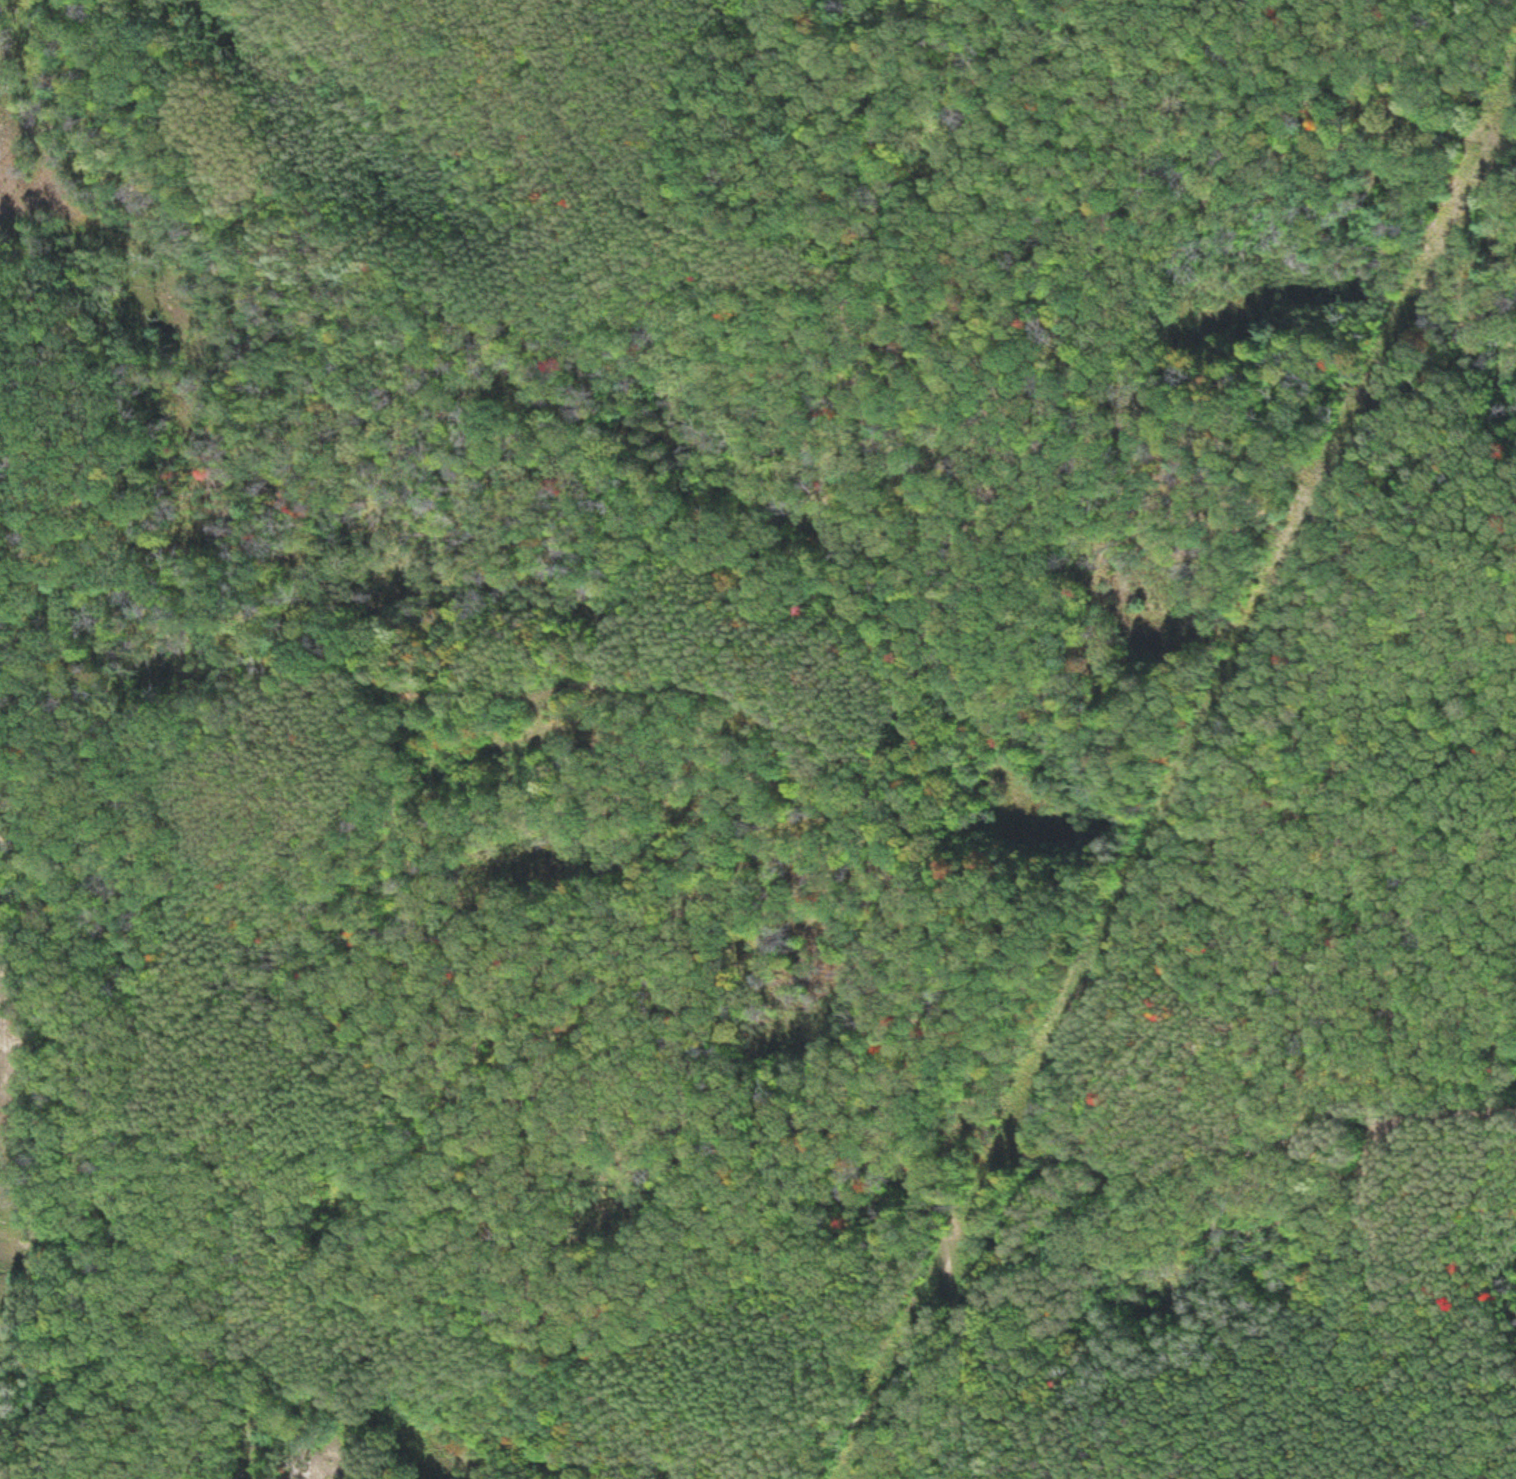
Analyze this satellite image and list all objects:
road: (1114, 1217)
road: (1384, 1297)

